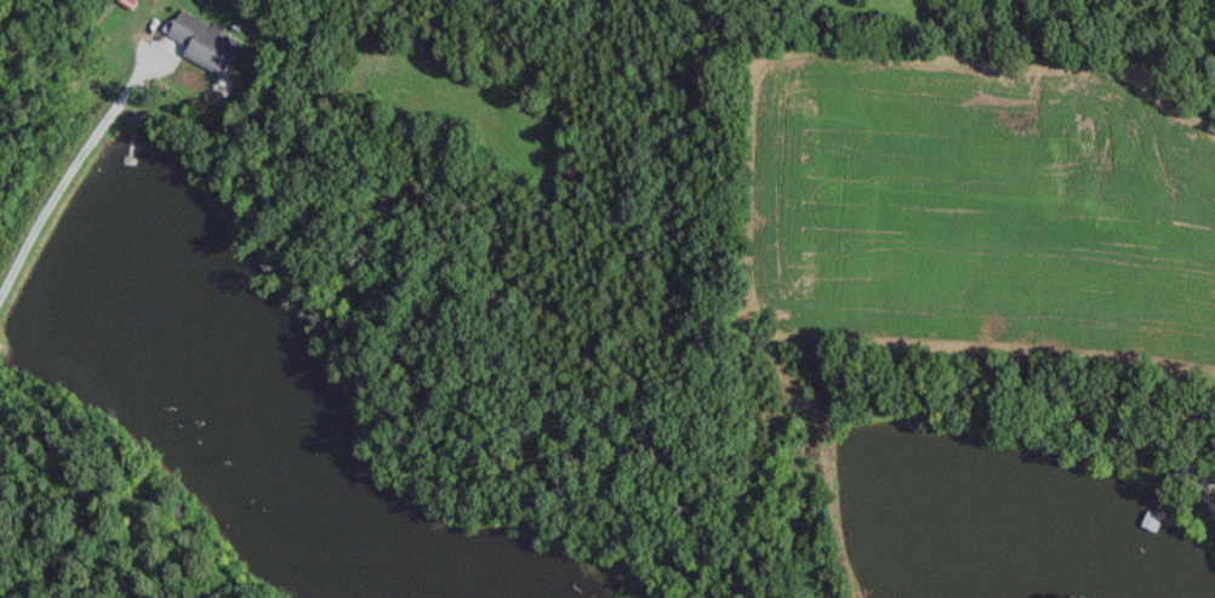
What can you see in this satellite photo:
building: (209, 39)
road: (72, 178)

